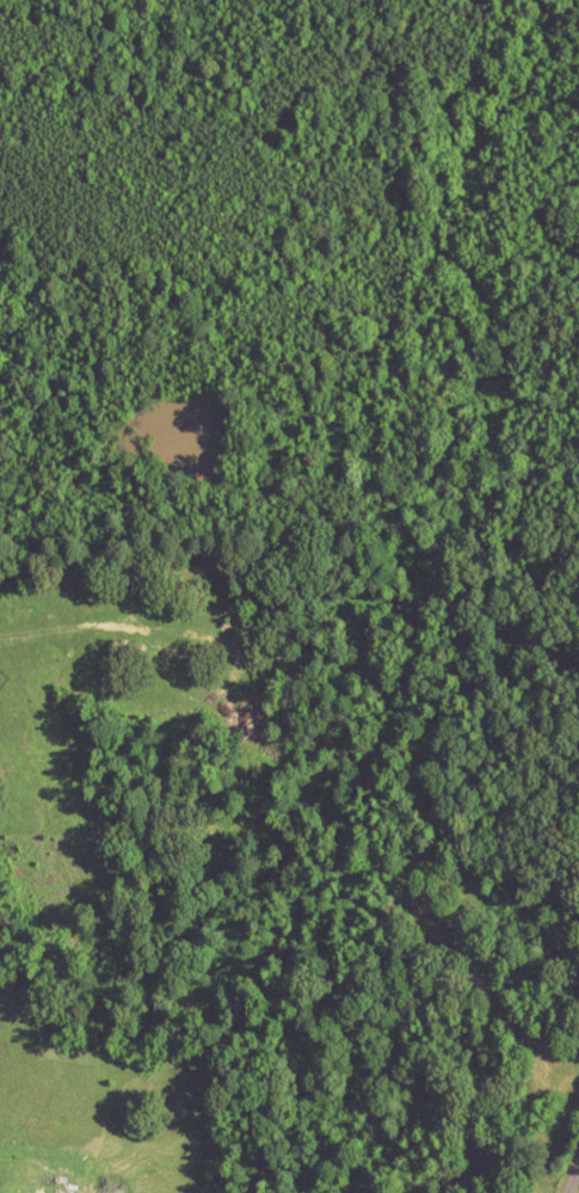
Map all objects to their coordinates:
road: (572, 1177)

